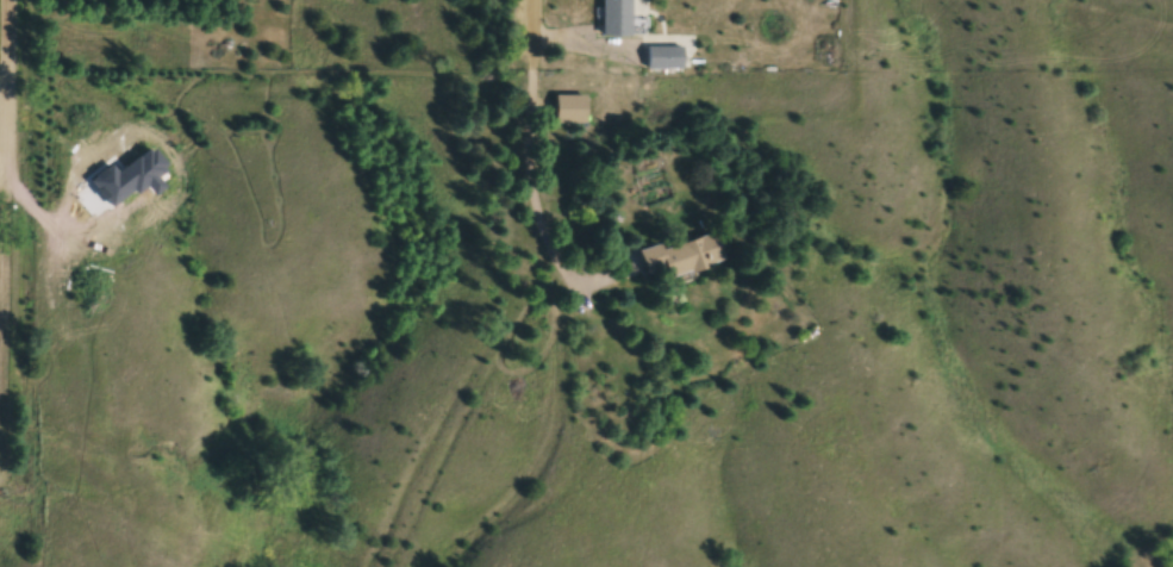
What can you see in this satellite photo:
building: (617, 18)
road: (523, 29)
building: (667, 58)
road: (4, 99)
building: (573, 110)
road: (525, 201)
road: (10, 242)
building: (685, 257)

